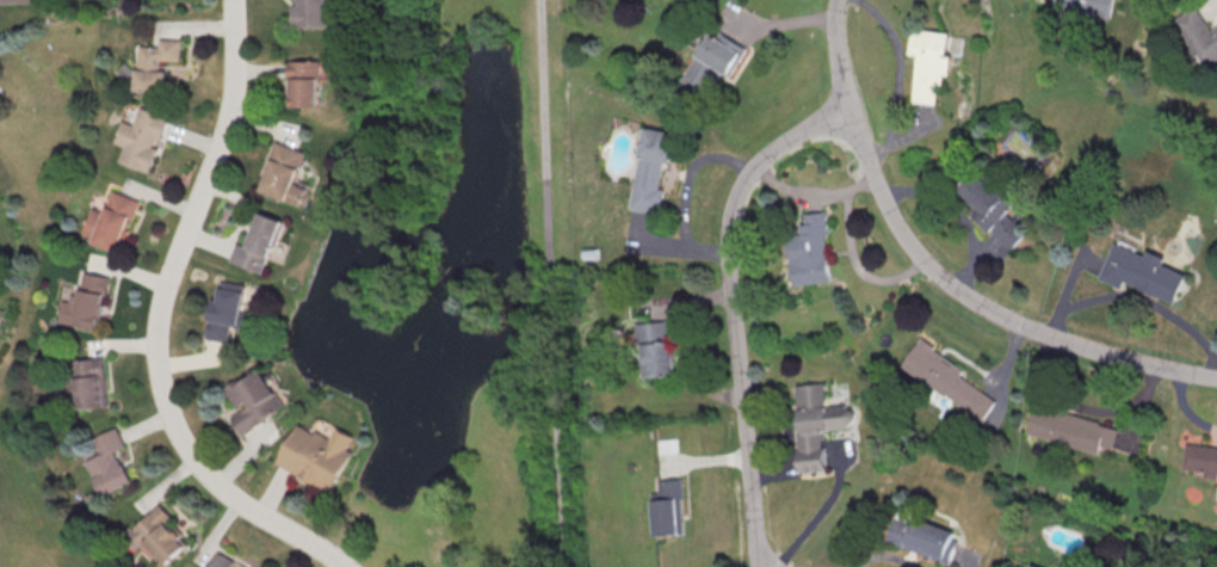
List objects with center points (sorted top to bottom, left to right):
building: (16, 1)
building: (1087, 6)
building: (311, 13)
building: (1198, 37)
road: (836, 55)
building: (712, 61)
building: (929, 62)
building: (156, 63)
building: (305, 82)
building: (143, 138)
building: (653, 171)
building: (285, 173)
road: (813, 196)
building: (993, 209)
road: (955, 215)
building: (113, 222)
building: (260, 244)
building: (810, 251)
road: (854, 267)
building: (1138, 273)
road: (550, 283)
road: (1139, 298)
building: (87, 302)
road: (983, 304)
road: (733, 309)
building: (226, 312)
road: (156, 319)
building: (656, 349)
building: (943, 380)
building: (91, 383)
building: (254, 400)
building: (815, 426)
building: (1070, 430)
building: (315, 457)
building: (1199, 460)
building: (109, 462)
building: (668, 509)
building: (162, 535)
building: (923, 536)
building: (222, 561)
building: (1031, 566)
building: (1033, 566)

